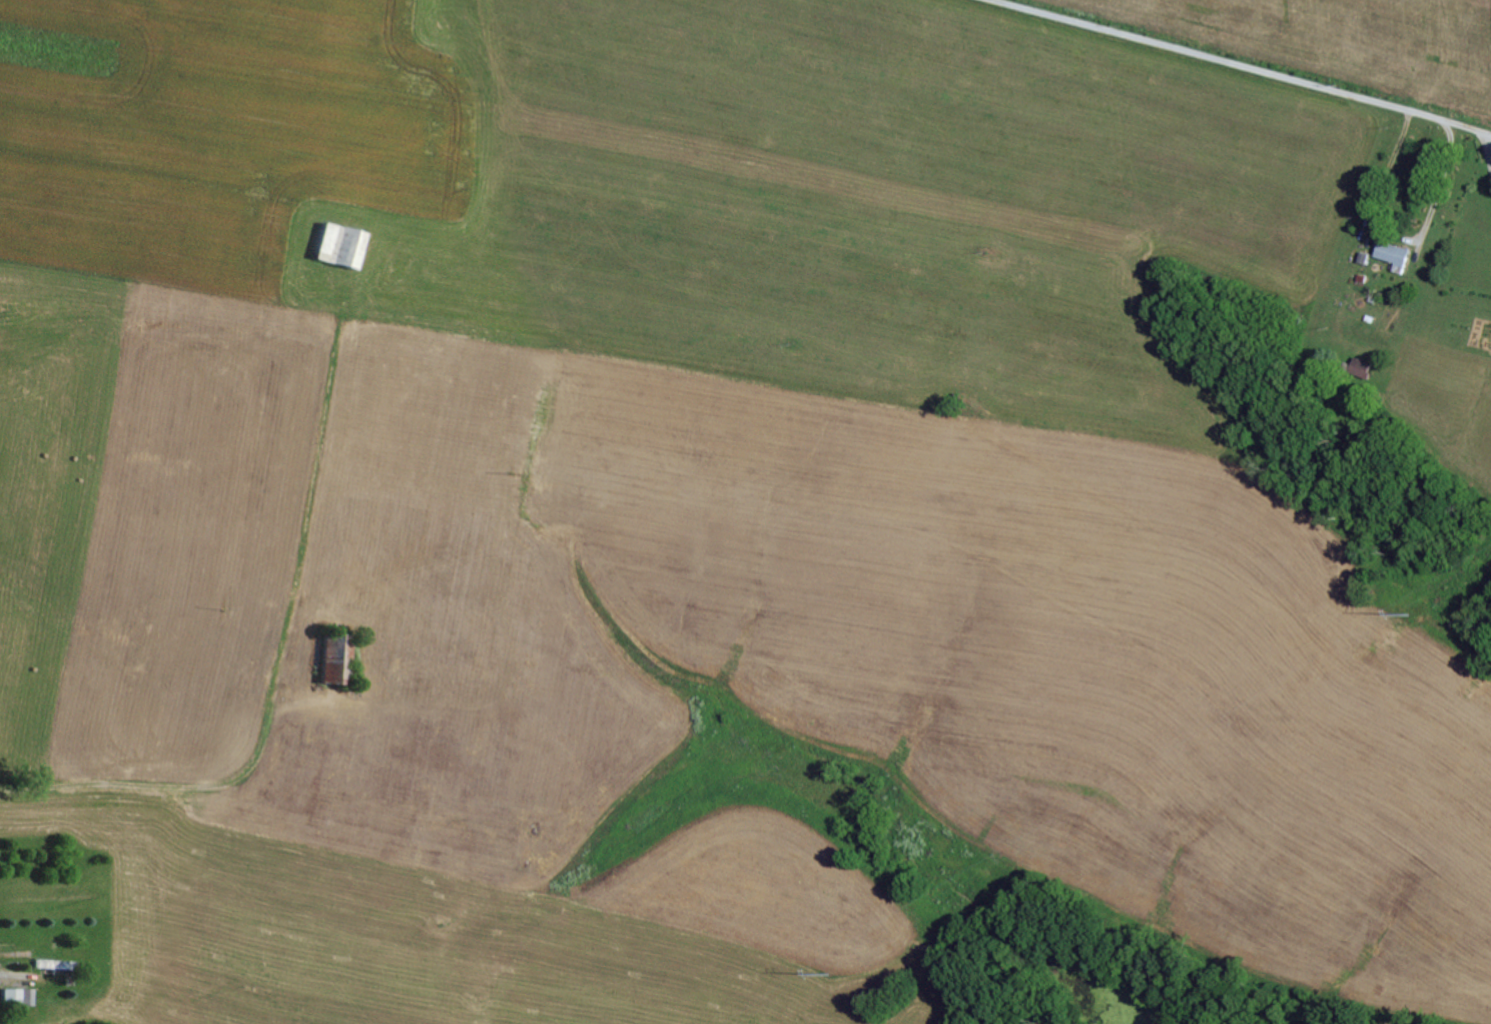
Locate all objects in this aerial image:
road: (1234, 67)
building: (335, 243)
building: (1387, 252)
building: (332, 655)
road: (161, 789)
building: (15, 996)

